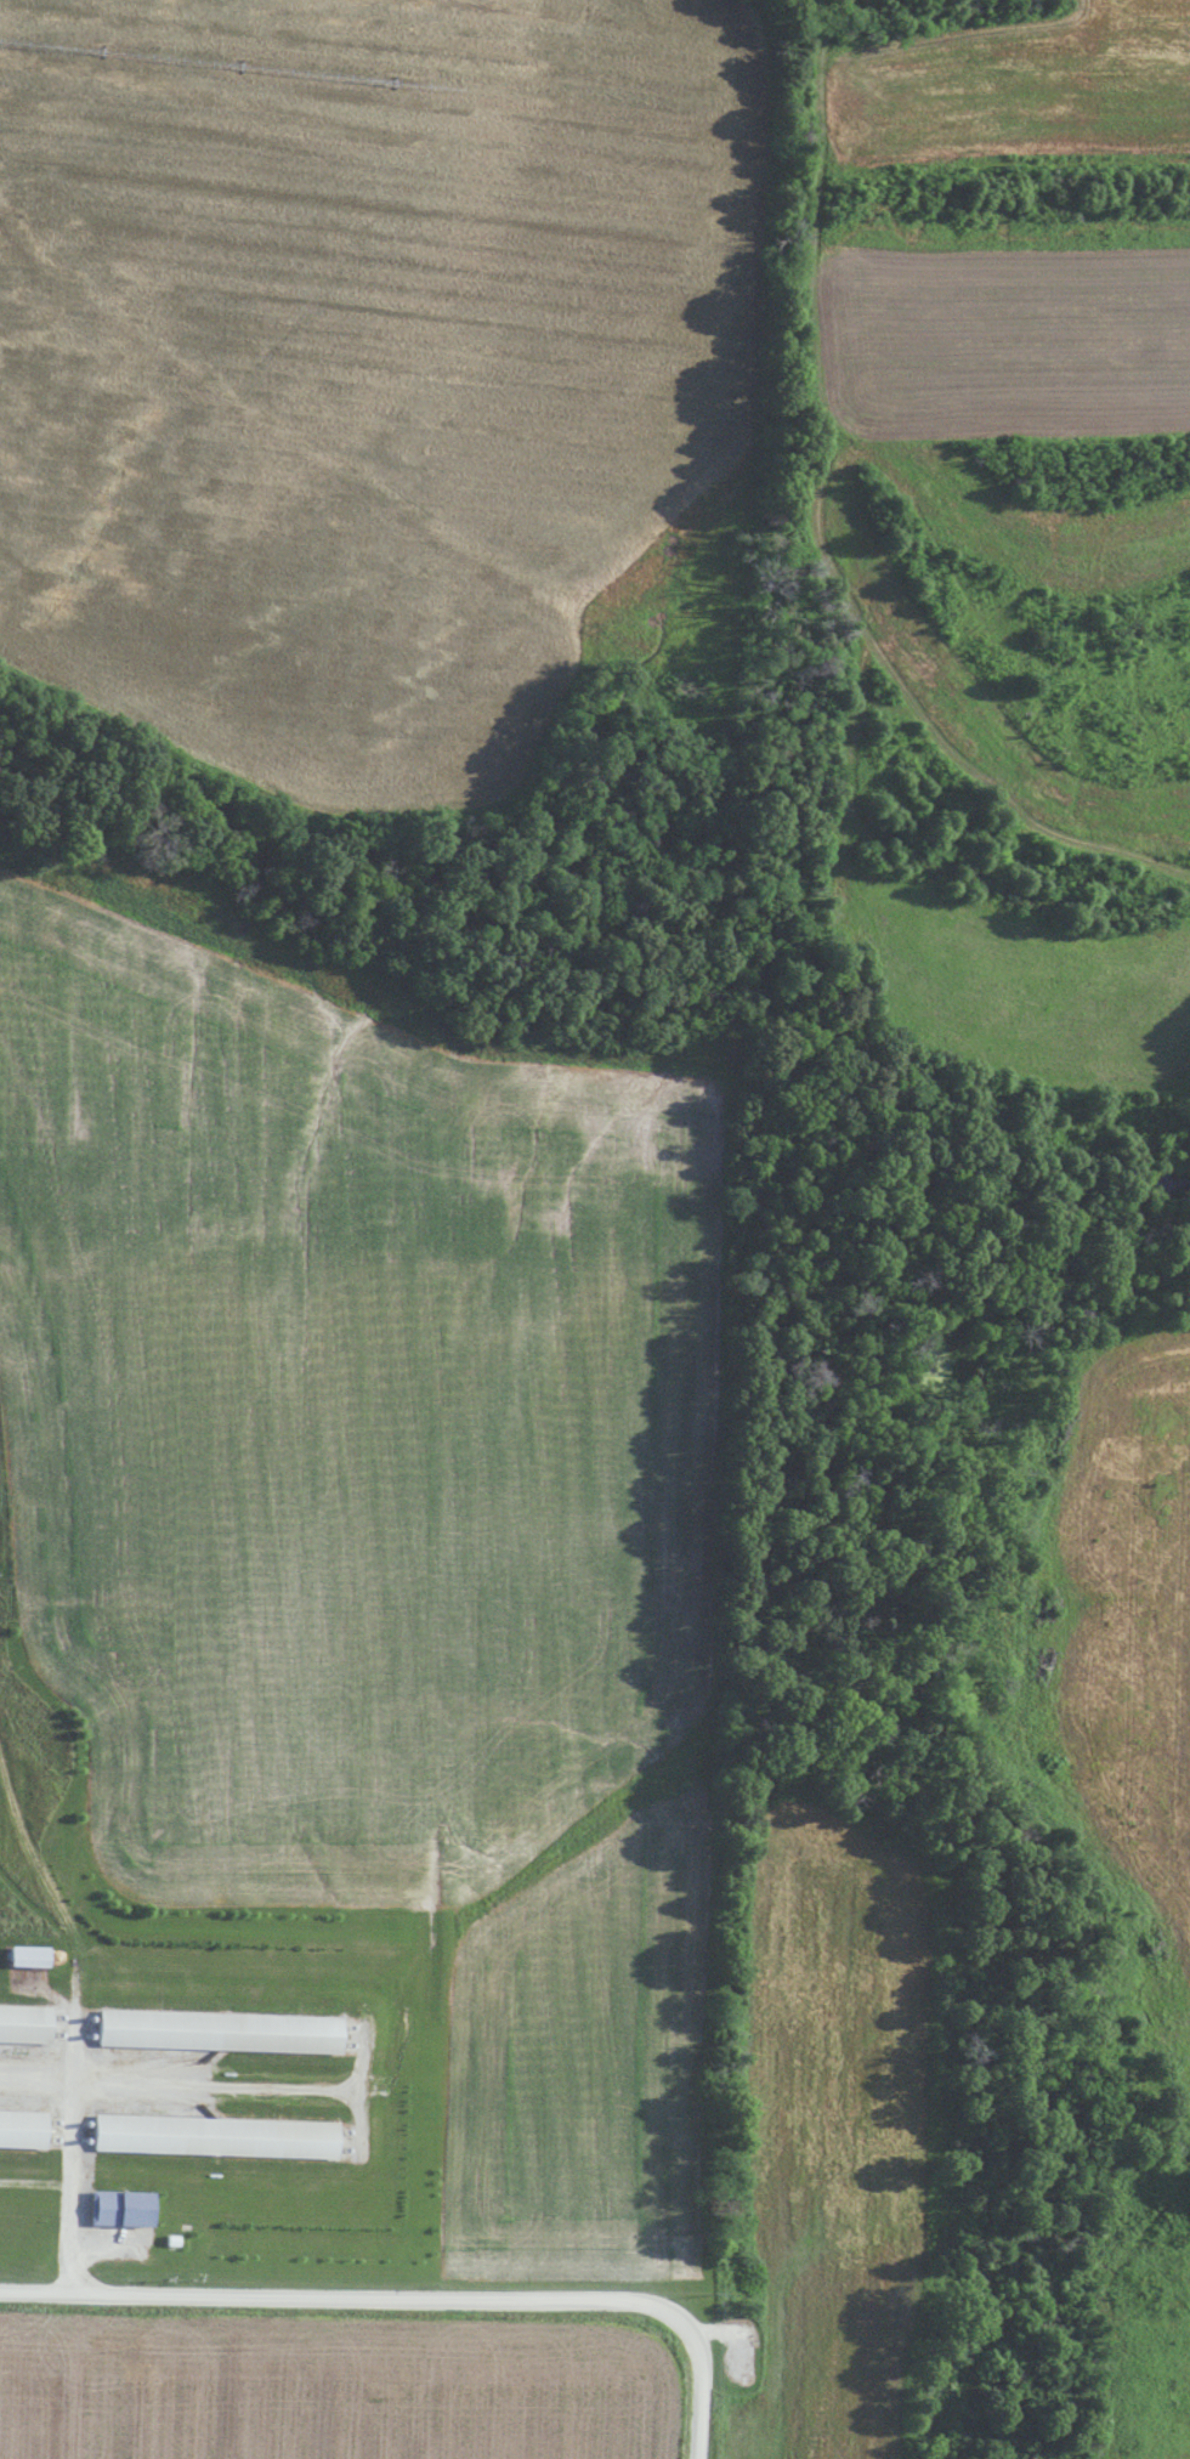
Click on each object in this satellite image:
building: (22, 1959)
building: (22, 2025)
building: (211, 2033)
building: (21, 2130)
building: (209, 2138)
road: (68, 2157)
building: (115, 2210)
road: (414, 2300)

